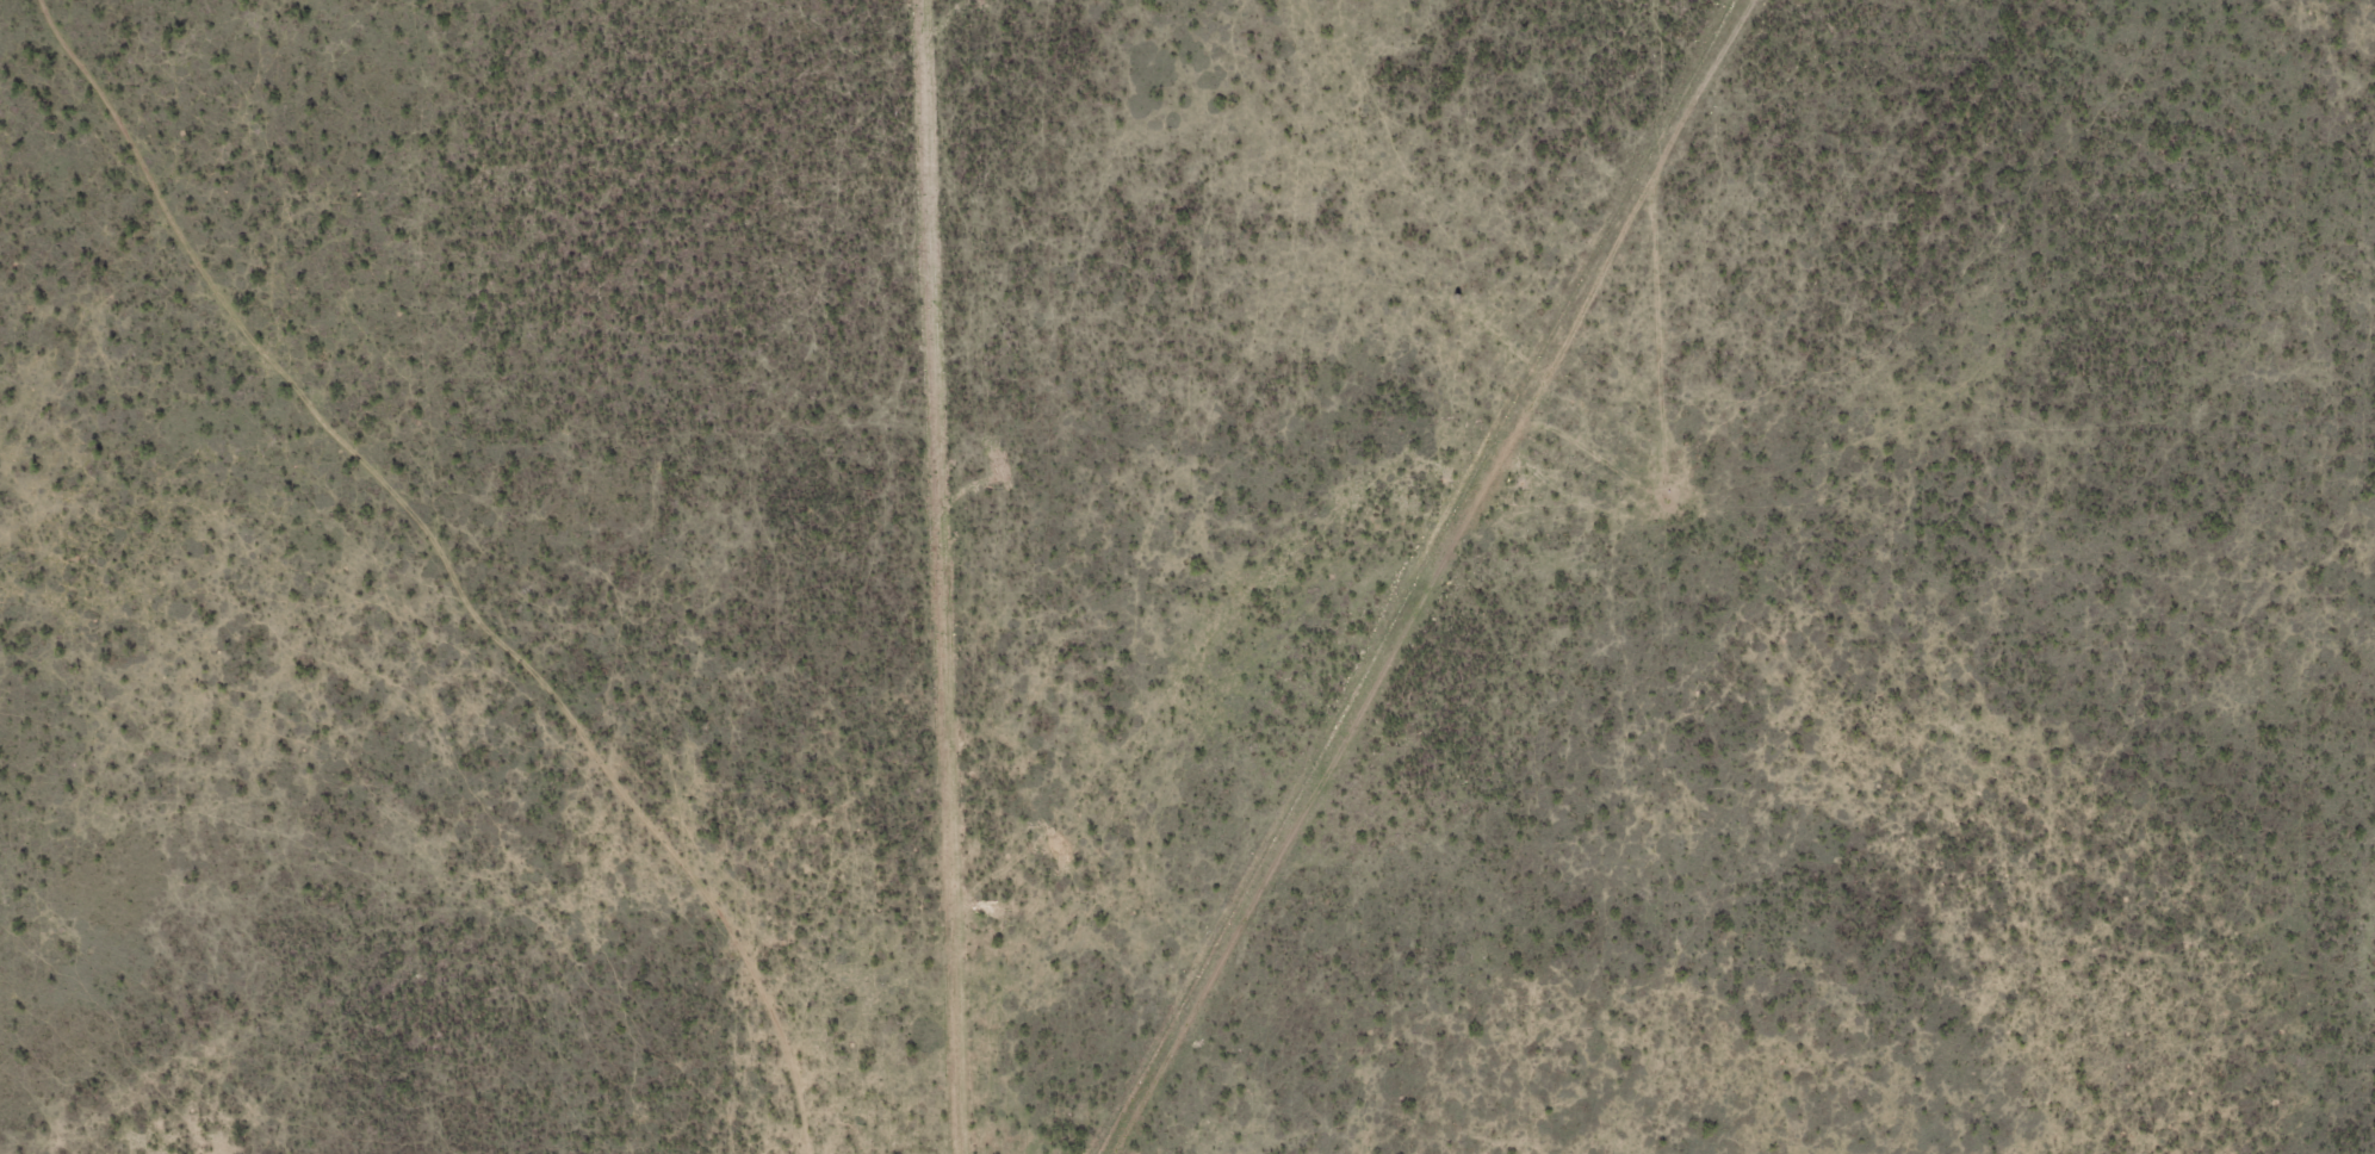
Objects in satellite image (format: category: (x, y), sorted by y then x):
road: (424, 581)

